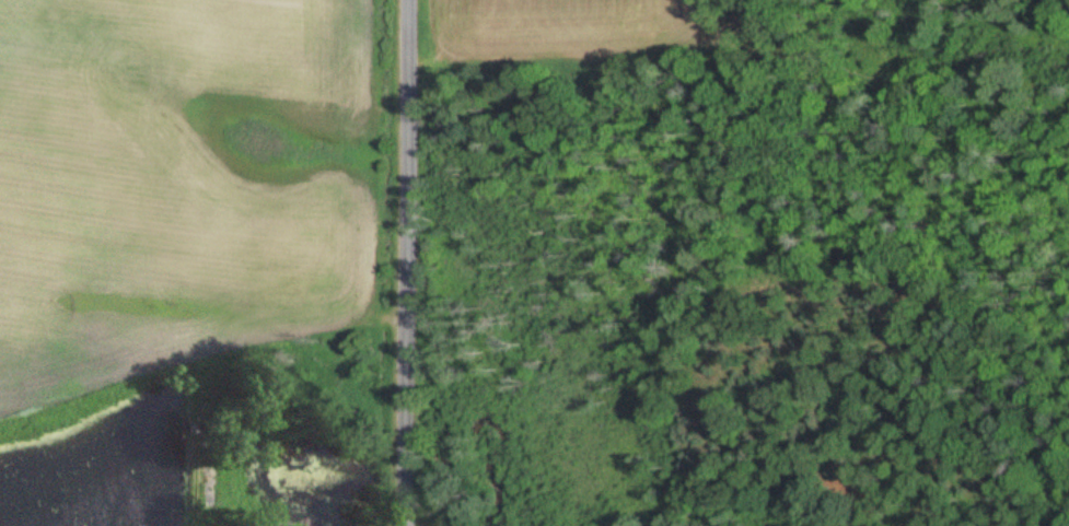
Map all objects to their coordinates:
road: (404, 262)

